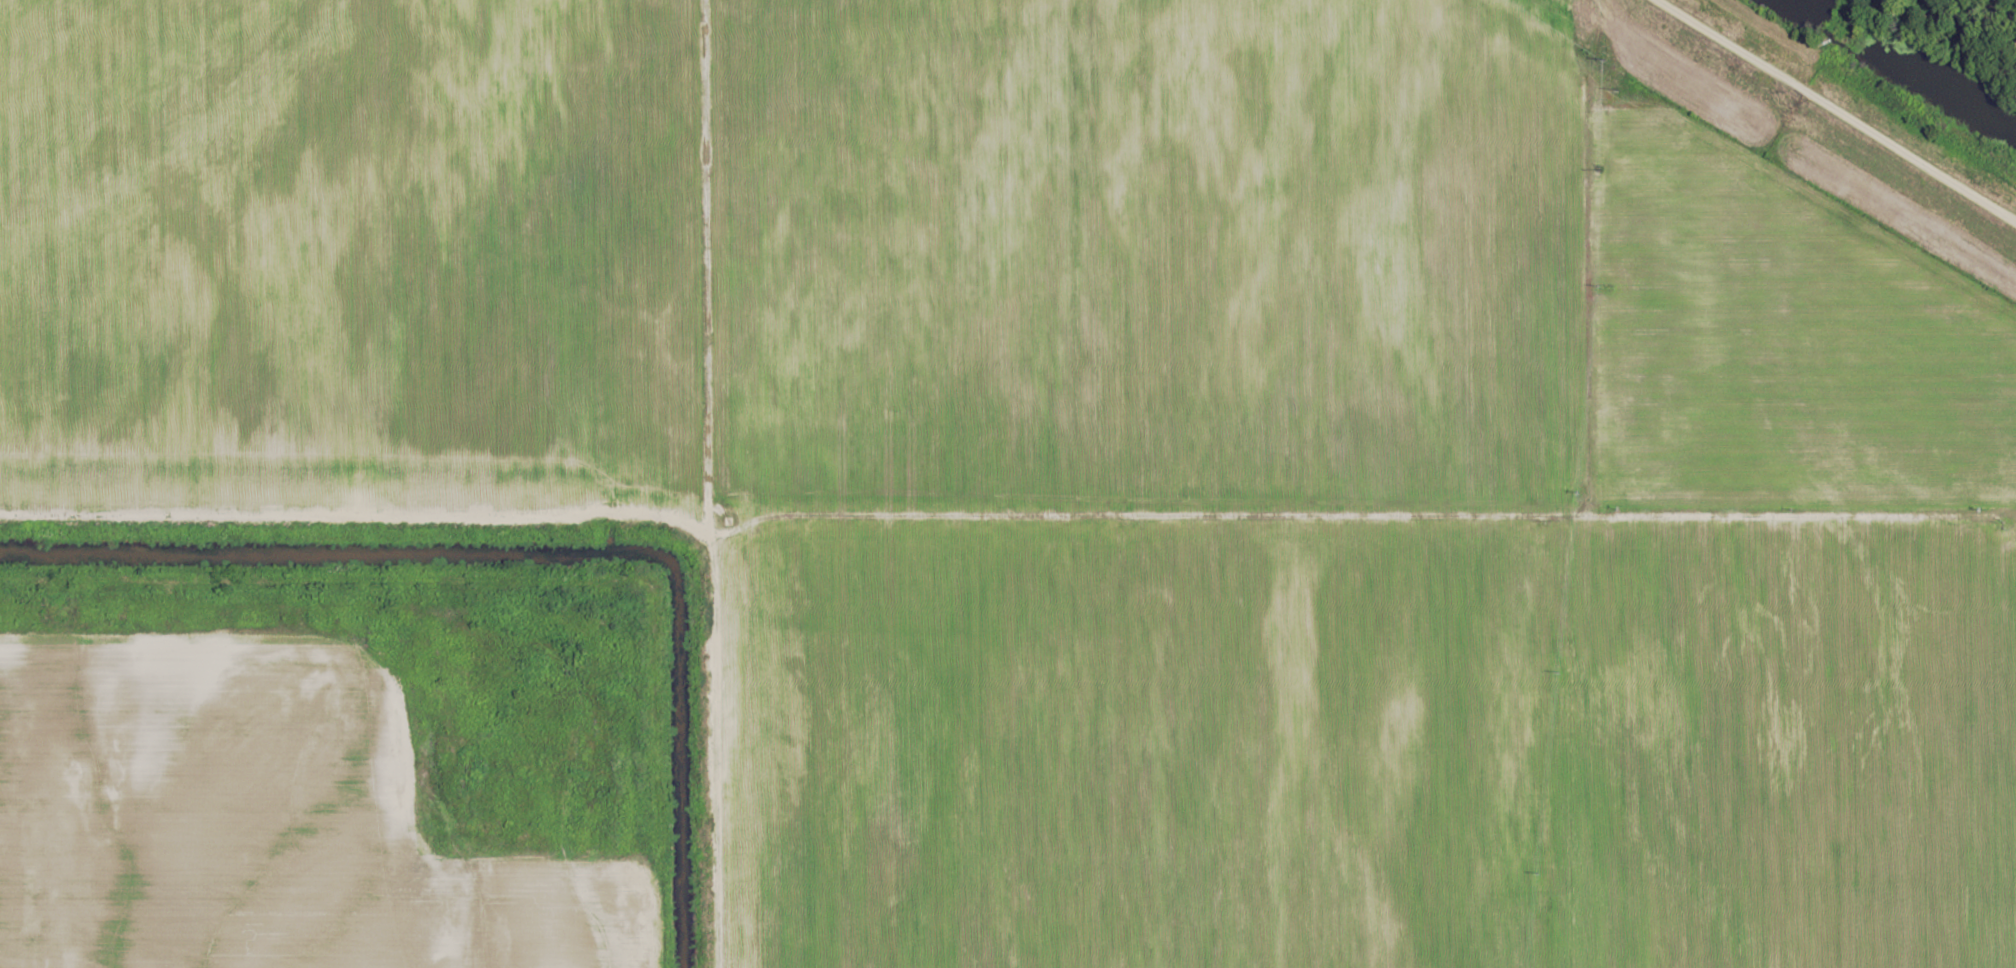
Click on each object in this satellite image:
road: (1833, 112)
road: (701, 261)
road: (44, 485)
road: (622, 514)

